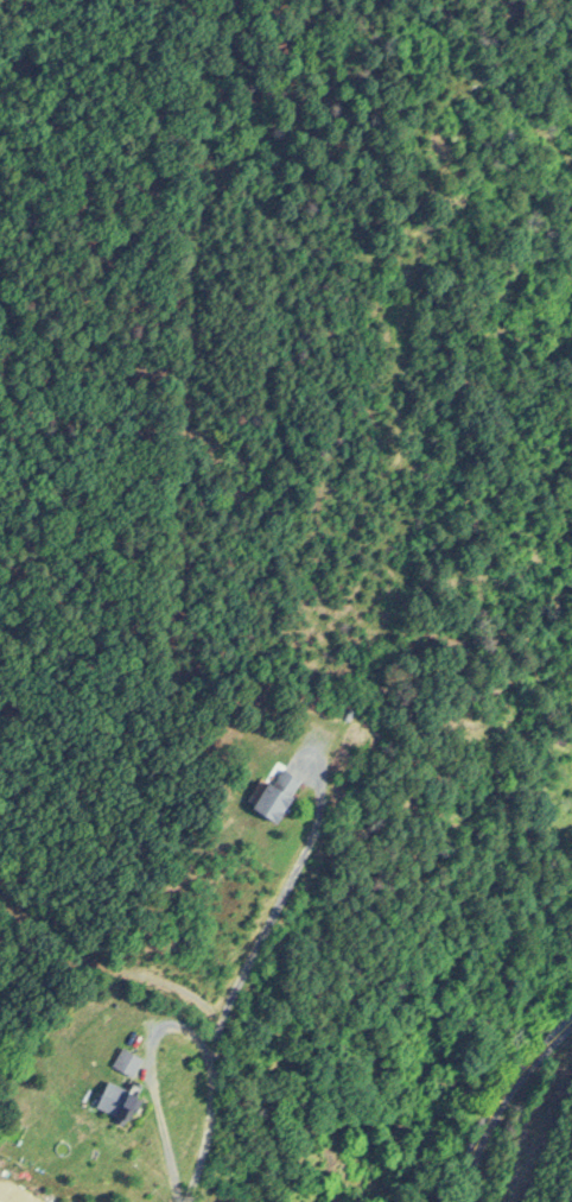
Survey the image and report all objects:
building: (269, 792)
road: (272, 898)
road: (176, 1021)
building: (121, 1059)
road: (510, 1101)

